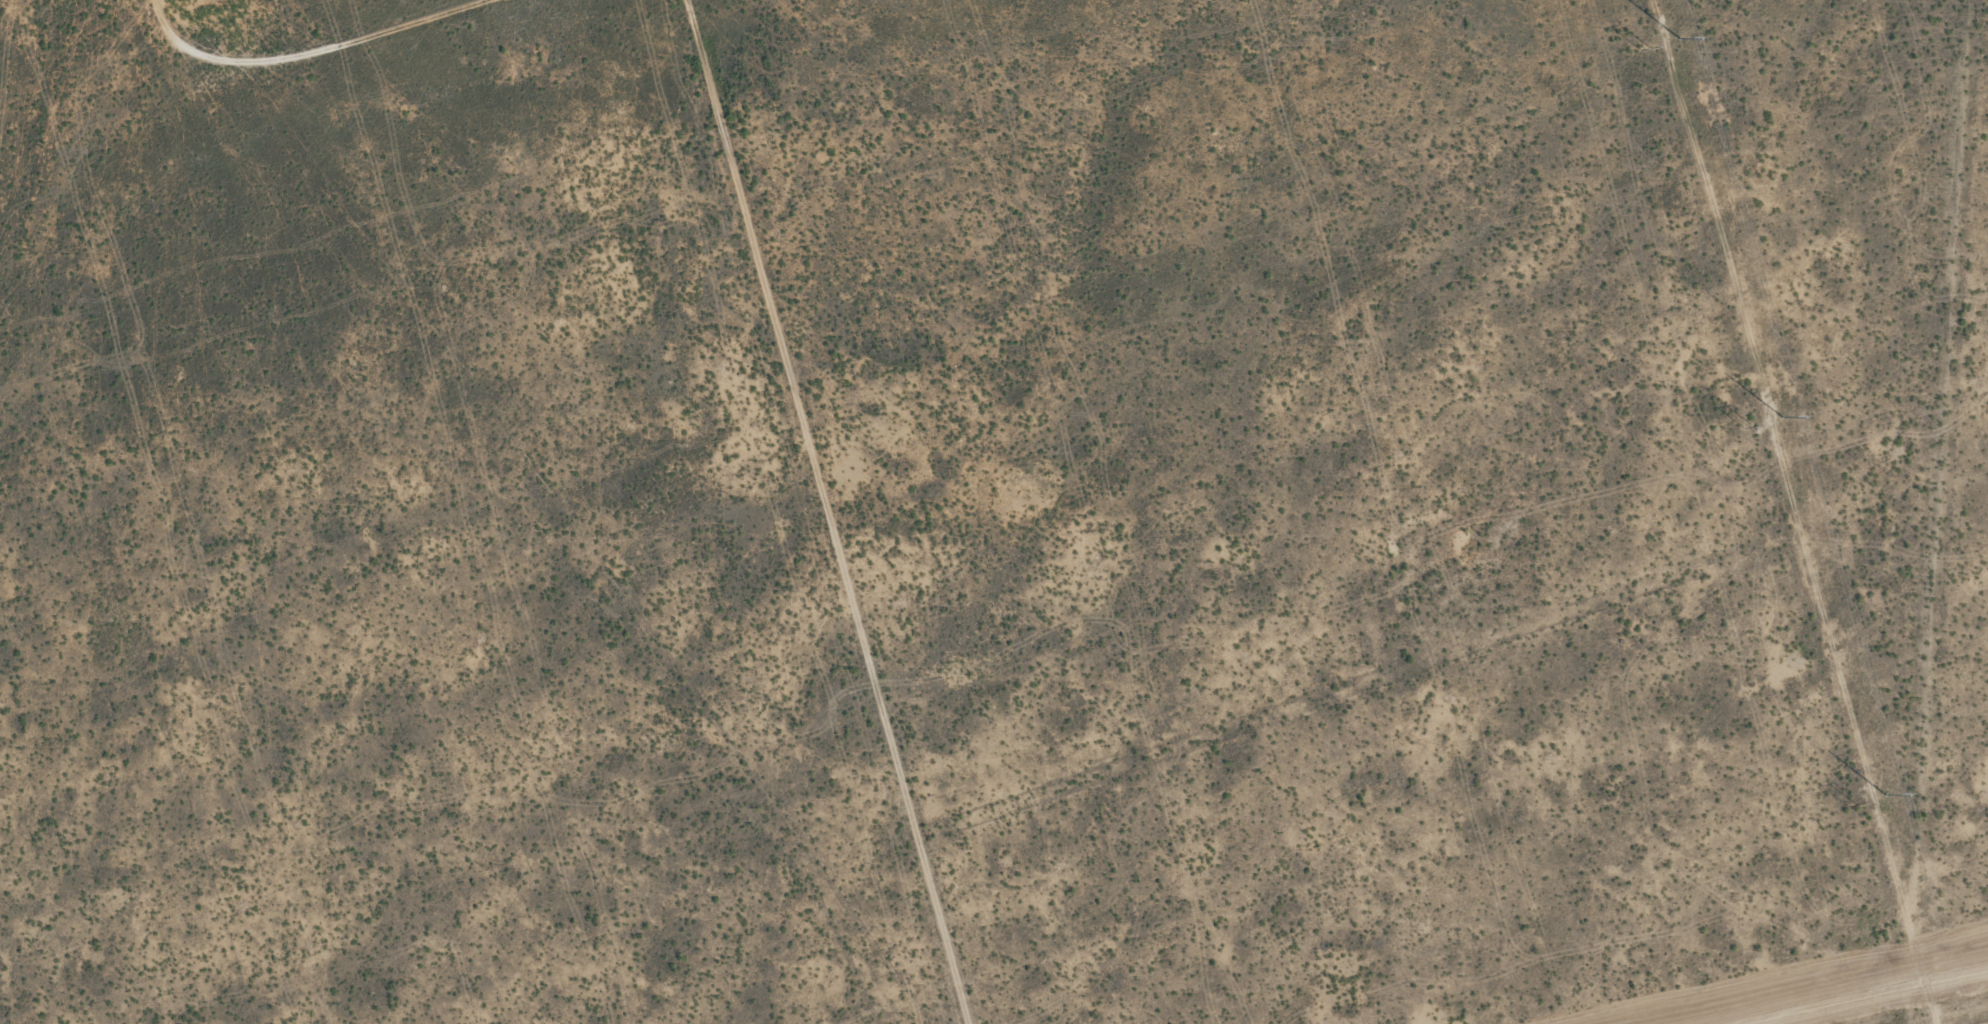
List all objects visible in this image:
power tower: (1678, 38)
power tower: (1642, 50)
power tower: (1782, 416)
power tower: (1747, 426)
power tower: (1885, 794)
power tower: (1849, 807)

